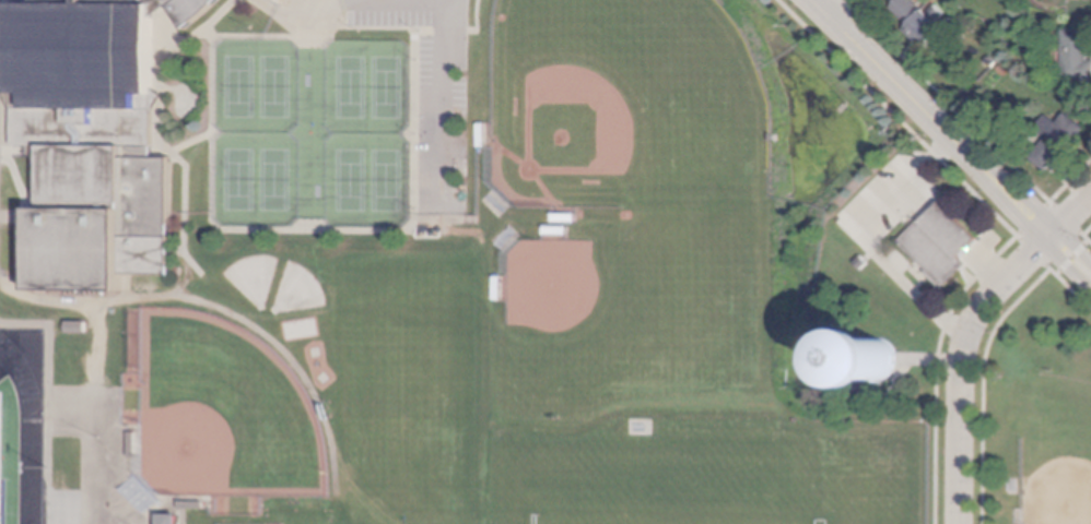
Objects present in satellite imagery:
building: (270, 0)
road: (368, 1)
road: (445, 1)
road: (832, 7)
road: (163, 16)
building: (922, 21)
road: (377, 27)
road: (209, 32)
road: (193, 35)
building: (1077, 55)
building: (992, 61)
building: (1004, 70)
park: (238, 86)
park: (274, 86)
road: (313, 87)
park: (350, 87)
park: (386, 87)
road: (172, 90)
building: (7, 97)
road: (155, 97)
building: (155, 98)
road: (5, 100)
road: (947, 100)
parking lot: (435, 104)
park: (627, 106)
pier: (840, 107)
road: (441, 110)
road: (313, 112)
road: (930, 118)
road: (211, 132)
road: (412, 133)
building: (482, 134)
building: (92, 139)
building: (1057, 140)
road: (189, 143)
road: (14, 151)
road: (154, 153)
road: (174, 156)
road: (174, 159)
road: (312, 178)
park: (238, 179)
park: (273, 179)
park: (350, 180)
park: (385, 180)
road: (17, 183)
road: (917, 196)
road: (32, 205)
road: (1070, 216)
road: (14, 217)
building: (563, 217)
road: (1032, 218)
road: (1065, 218)
road: (437, 219)
road: (1009, 228)
road: (268, 229)
building: (555, 230)
road: (860, 238)
road: (1087, 239)
building: (939, 243)
road: (1072, 248)
road: (176, 252)
road: (1032, 252)
road: (1071, 258)
road: (1066, 264)
road: (986, 265)
flagpole: (966, 269)
park: (254, 276)
road: (127, 286)
building: (497, 288)
park: (298, 290)
road: (103, 302)
park: (584, 320)
building: (77, 326)
building: (884, 354)
water tower: (884, 355)
road: (984, 356)
road: (293, 360)
road: (48, 365)
road: (962, 365)
park: (1028, 404)
road: (93, 413)
park: (224, 413)
track: (27, 416)
park: (0, 440)
building: (132, 444)
park: (1056, 450)
park: (4, 460)
street lamp: (47, 468)
park: (677, 485)
building: (191, 505)
building: (168, 519)

